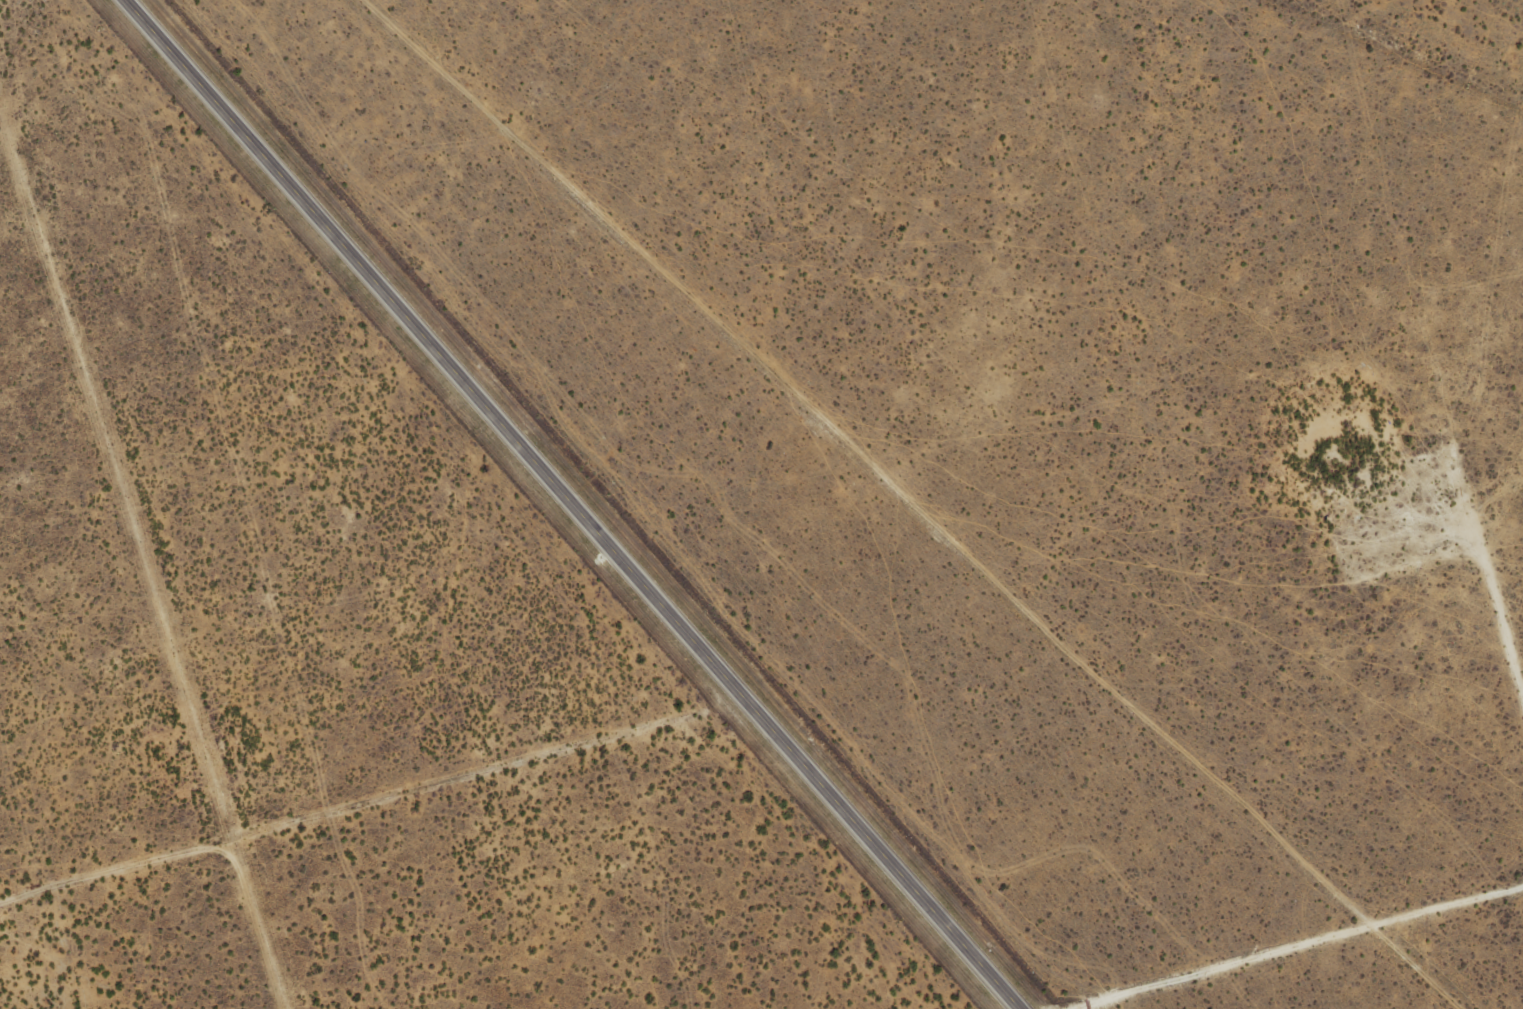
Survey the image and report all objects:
road: (573, 503)
road: (381, 823)

